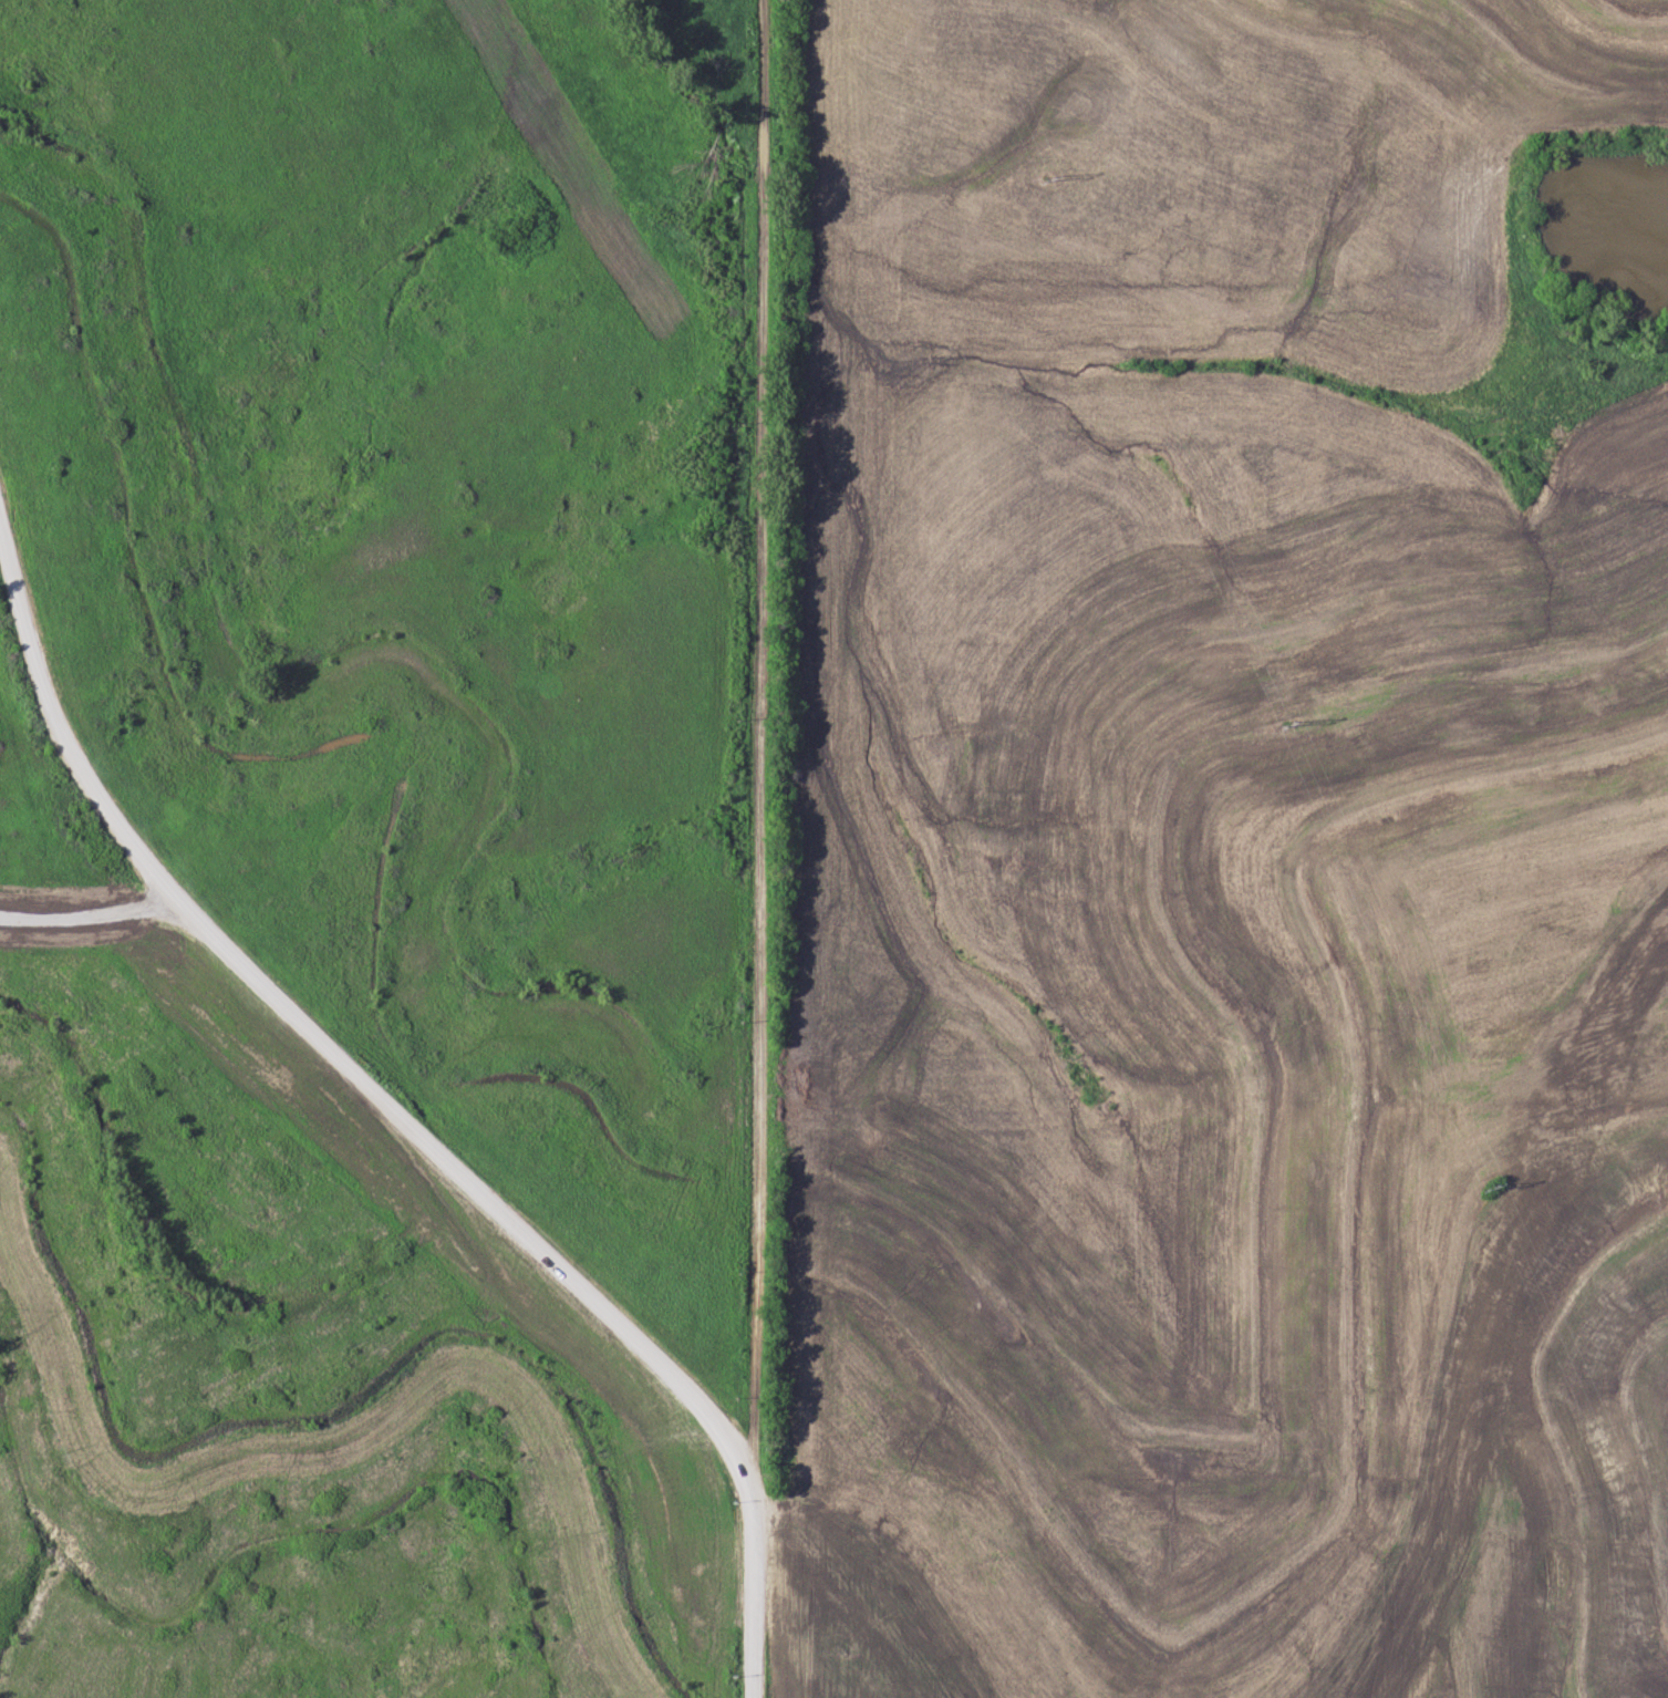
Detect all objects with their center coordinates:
road: (762, 745)
road: (397, 1117)

